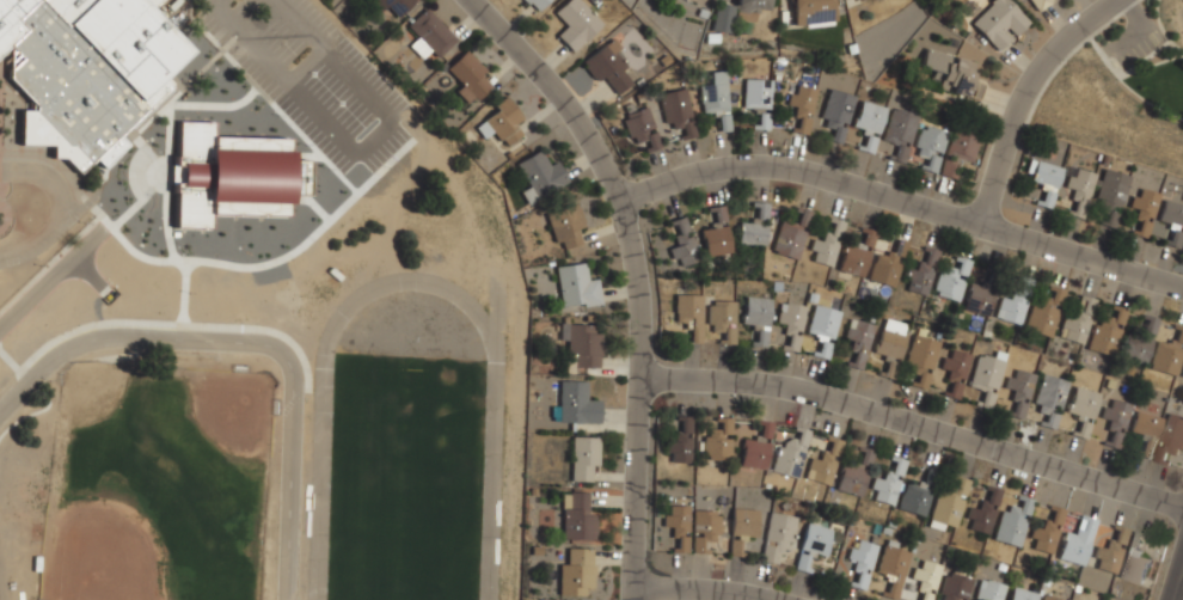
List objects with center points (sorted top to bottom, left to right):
building: (858, 0)
building: (697, 2)
building: (534, 4)
building: (1040, 4)
building: (393, 5)
building: (753, 5)
building: (811, 12)
road: (293, 16)
building: (723, 18)
building: (997, 22)
building: (575, 23)
road: (1140, 27)
road: (1161, 29)
road: (240, 33)
building: (429, 35)
parking lot: (1140, 49)
road: (1066, 56)
road: (1144, 59)
road: (1151, 65)
building: (608, 68)
building: (84, 69)
building: (952, 73)
parking lot: (311, 75)
building: (468, 76)
road: (1128, 86)
park: (1121, 90)
road: (562, 94)
road: (1029, 94)
building: (713, 96)
building: (758, 100)
building: (802, 106)
building: (676, 111)
building: (835, 112)
building: (868, 120)
building: (499, 123)
building: (639, 128)
building: (900, 131)
building: (930, 146)
building: (958, 149)
building: (231, 175)
building: (540, 176)
building: (1060, 185)
building: (1112, 189)
road: (908, 201)
building: (1144, 208)
building: (1172, 222)
building: (565, 227)
building: (754, 227)
building: (716, 233)
building: (790, 235)
building: (681, 241)
building: (825, 249)
building: (857, 255)
building: (885, 267)
building: (921, 274)
road: (47, 280)
building: (950, 282)
building: (576, 287)
building: (979, 300)
building: (1013, 302)
building: (1043, 312)
building: (688, 313)
building: (756, 318)
building: (722, 319)
building: (1075, 324)
building: (791, 325)
building: (822, 329)
building: (1105, 332)
building: (1140, 338)
building: (890, 341)
road: (253, 342)
building: (857, 343)
building: (582, 345)
building: (1167, 354)
building: (921, 360)
building: (954, 371)
building: (1182, 373)
building: (987, 376)
building: (1019, 388)
building: (1049, 399)
road: (645, 400)
building: (572, 403)
building: (1083, 410)
road: (919, 421)
building: (1115, 424)
building: (1146, 431)
track: (320, 437)
building: (1171, 439)
building: (718, 441)
building: (680, 443)
building: (756, 448)
park: (406, 453)
building: (790, 454)
building: (583, 457)
building: (823, 464)
building: (854, 473)
park: (155, 484)
building: (887, 484)
building: (914, 498)
building: (948, 506)
building: (983, 513)
building: (576, 518)
building: (1012, 522)
building: (743, 525)
building: (678, 526)
building: (704, 528)
building: (1047, 532)
building: (778, 537)
building: (1077, 543)
building: (811, 545)
building: (1110, 551)
building: (1134, 561)
building: (862, 562)
building: (893, 567)
building: (576, 573)
building: (925, 577)
road: (1176, 580)
road: (722, 586)
building: (955, 587)
building: (988, 590)
building: (1020, 594)
building: (1047, 599)

